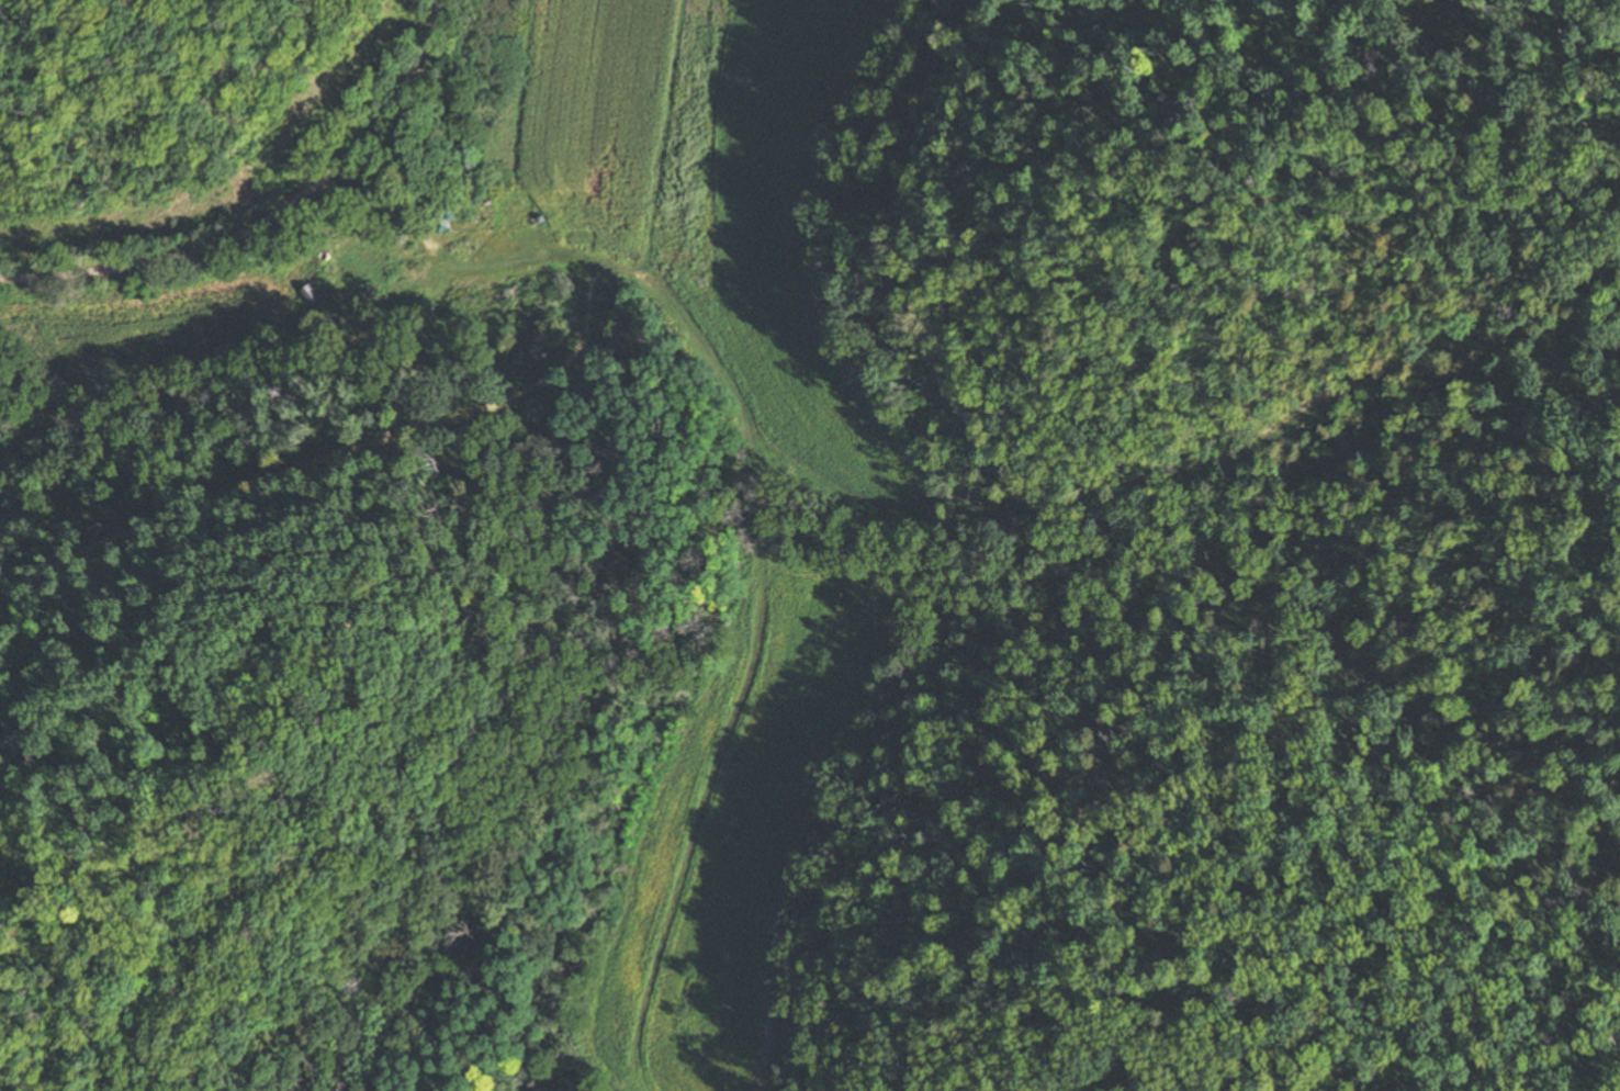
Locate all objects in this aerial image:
building: (524, 224)
road: (277, 227)
building: (352, 266)

